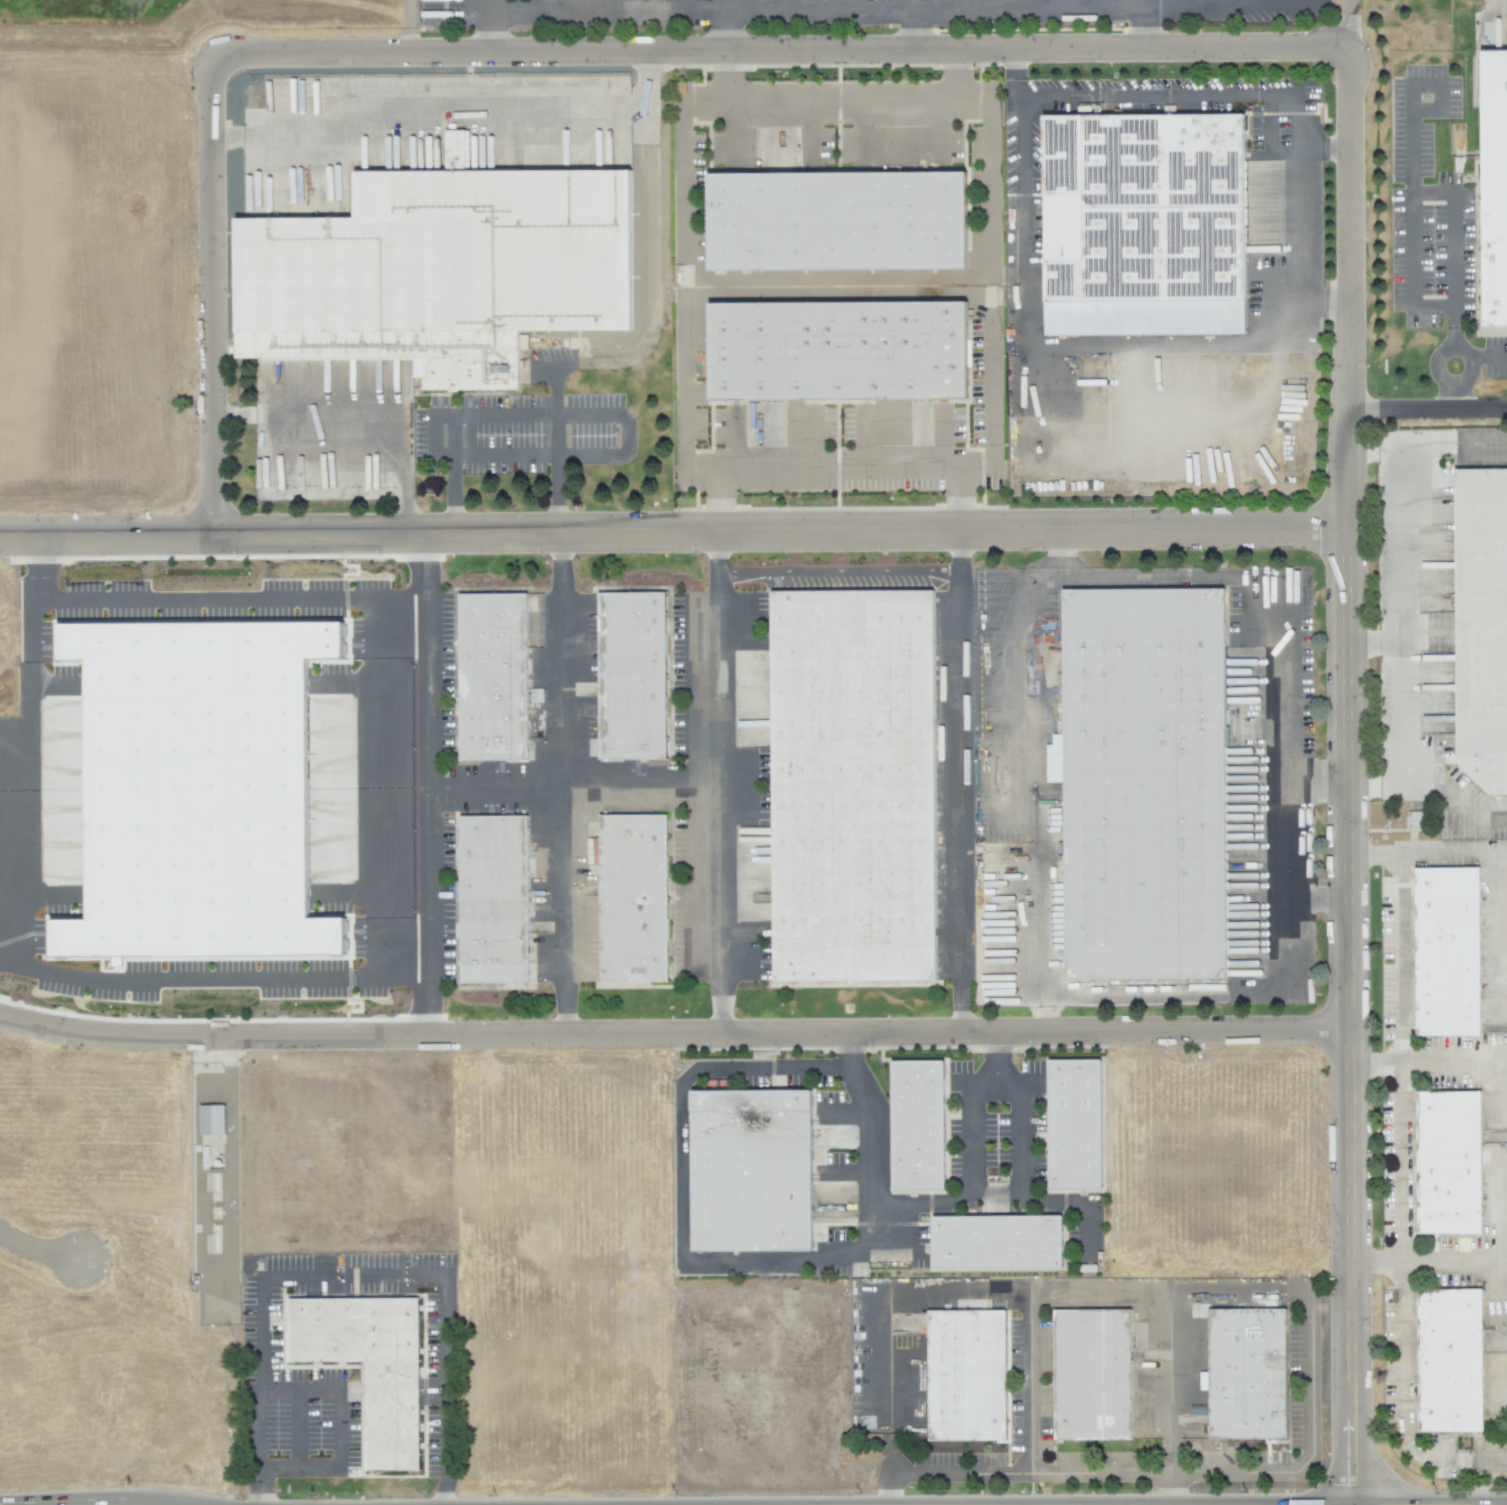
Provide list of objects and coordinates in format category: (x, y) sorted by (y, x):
road: (1123, 1)
road: (899, 2)
road: (901, 4)
road: (1341, 24)
road: (1140, 25)
road: (480, 26)
road: (920, 26)
road: (724, 29)
road: (781, 51)
road: (1264, 99)
road: (1439, 99)
road: (838, 102)
road: (682, 177)
road: (985, 179)
building: (1489, 183)
building: (1148, 198)
road: (1453, 203)
building: (833, 215)
road: (646, 245)
building: (437, 254)
road: (1409, 270)
road: (830, 289)
road: (213, 299)
building: (830, 345)
road: (1051, 347)
road: (1470, 364)
road: (1428, 405)
road: (496, 414)
road: (430, 436)
road: (555, 448)
road: (1453, 452)
road: (539, 455)
road: (841, 470)
road: (673, 533)
road: (33, 569)
road: (231, 600)
road: (1399, 618)
building: (1479, 624)
building: (638, 680)
building: (495, 681)
building: (535, 695)
road: (1039, 770)
road: (31, 772)
building: (1137, 778)
road: (1317, 780)
road: (1348, 780)
road: (576, 782)
road: (957, 782)
road: (1284, 782)
road: (724, 783)
road: (561, 784)
building: (847, 784)
road: (429, 785)
building: (196, 788)
road: (384, 789)
road: (1452, 805)
road: (1428, 850)
road: (1315, 892)
building: (640, 905)
building: (498, 907)
building: (1450, 954)
road: (1402, 955)
road: (212, 980)
road: (674, 1035)
road: (1429, 1059)
road: (792, 1067)
building: (211, 1120)
building: (1073, 1128)
building: (916, 1129)
road: (872, 1131)
building: (835, 1138)
road: (679, 1159)
road: (1400, 1162)
road: (1017, 1165)
building: (1450, 1165)
building: (748, 1175)
road: (874, 1211)
building: (995, 1246)
road: (36, 1250)
road: (1452, 1262)
road: (261, 1299)
road: (1307, 1303)
road: (888, 1333)
building: (1453, 1365)
building: (374, 1375)
building: (1247, 1377)
building: (1091, 1378)
building: (966, 1379)
road: (1167, 1380)
road: (1401, 1381)
road: (1023, 1385)
road: (444, 1390)
road: (297, 1427)
road: (337, 1427)
road: (1113, 1470)
road: (956, 1474)

